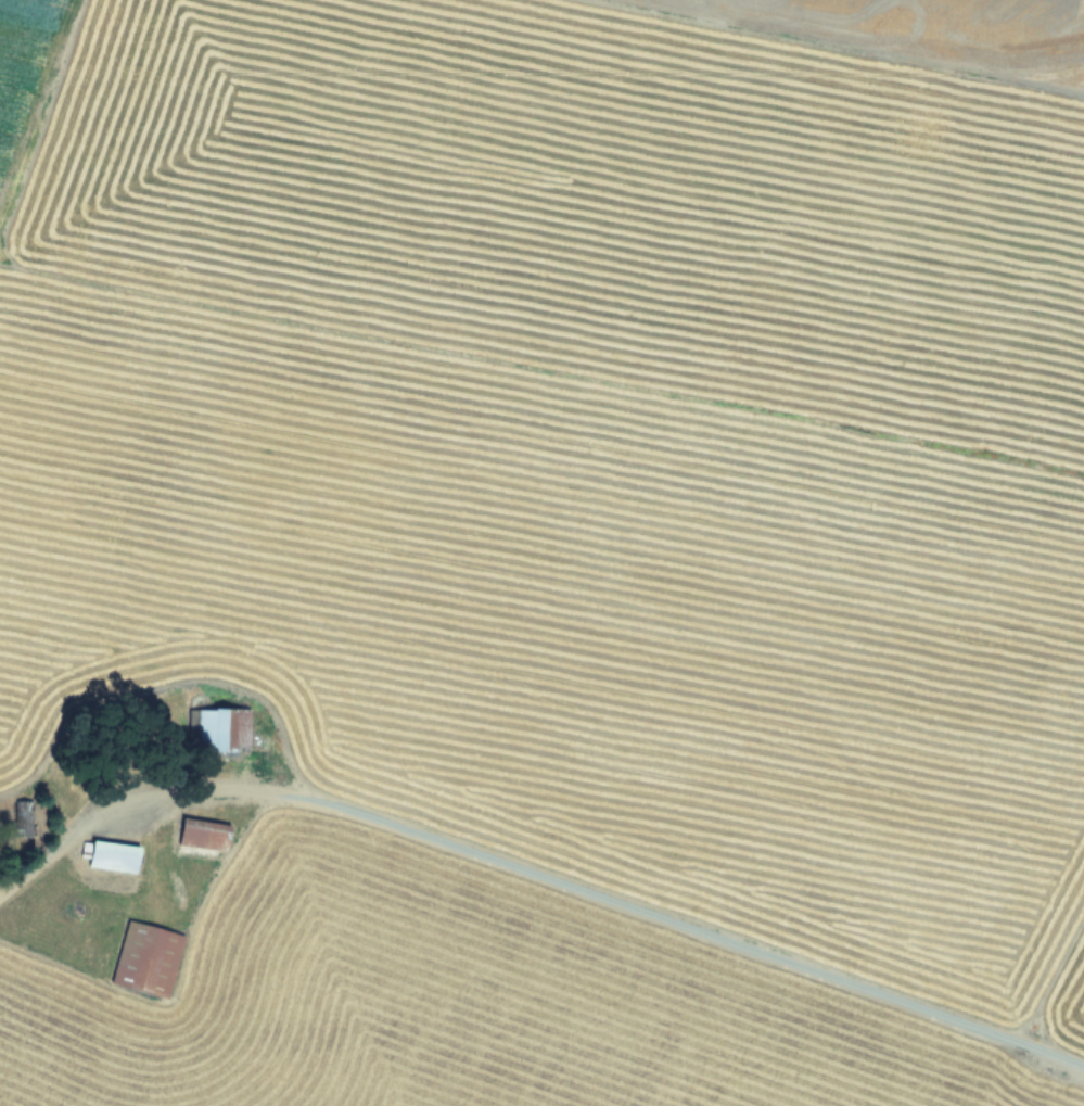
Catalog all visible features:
crop: (541, 552)
building: (221, 730)
building: (23, 816)
road: (101, 817)
building: (202, 839)
building: (113, 856)
road: (656, 917)
building: (145, 959)

